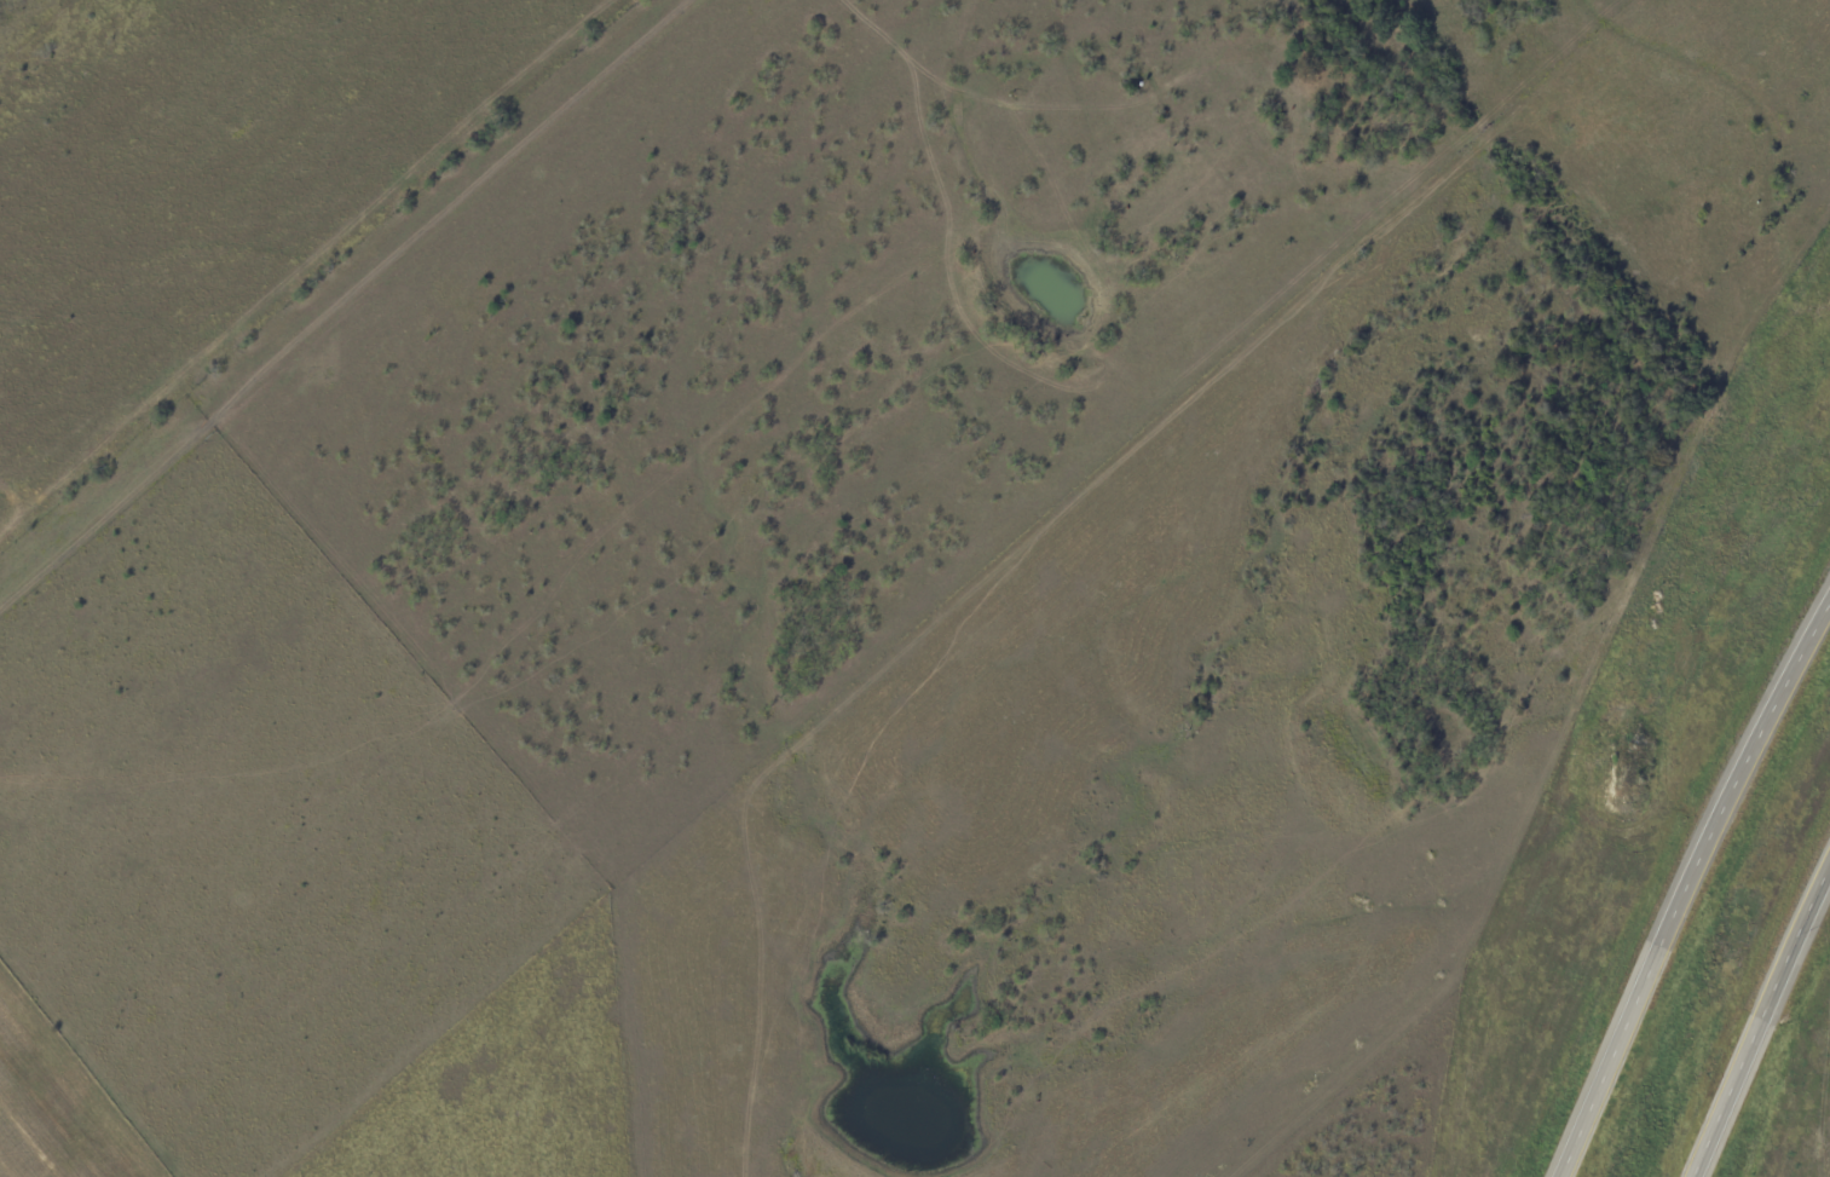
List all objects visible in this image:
road: (1682, 881)
road: (1759, 1019)

